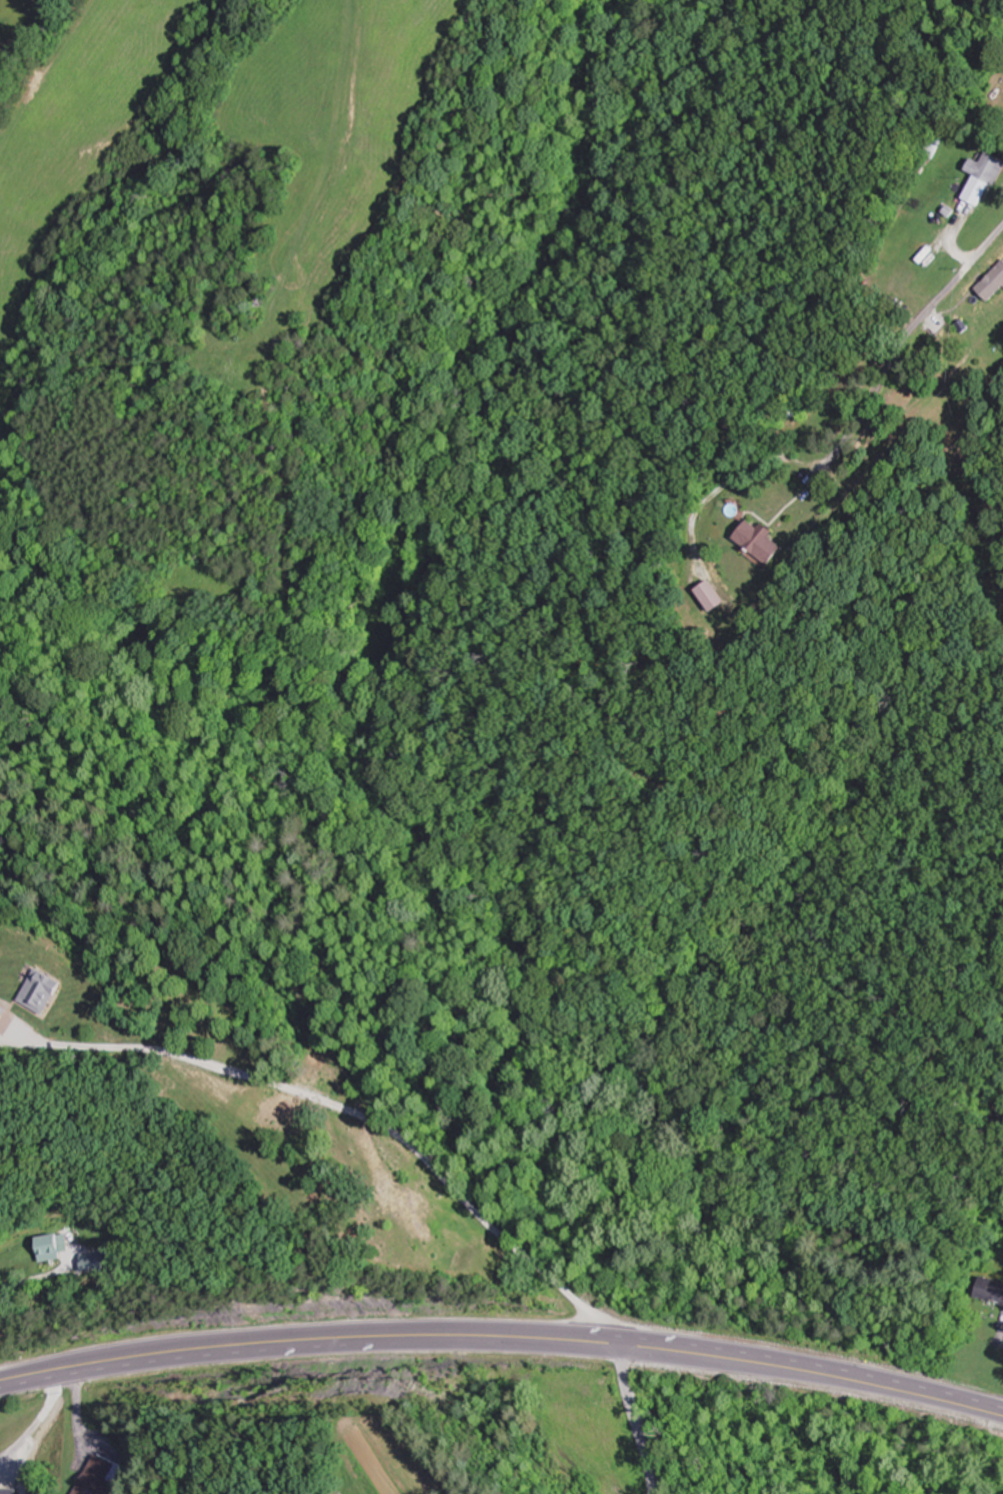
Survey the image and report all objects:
building: (961, 2)
building: (985, 177)
building: (993, 284)
road: (910, 336)
building: (764, 542)
building: (716, 596)
building: (47, 990)
road: (343, 1108)
building: (56, 1246)
building: (991, 1289)
road: (503, 1338)
road: (637, 1419)
building: (100, 1477)
building: (2, 1490)

